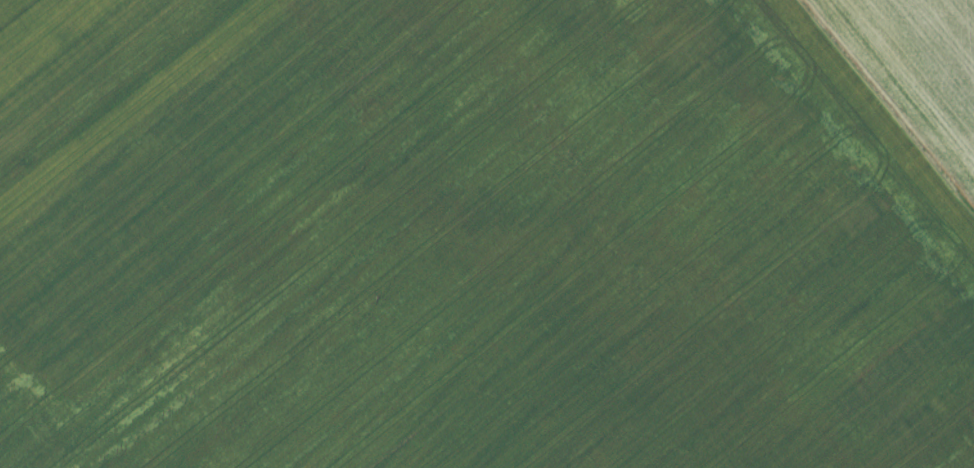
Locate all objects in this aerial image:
road: (882, 114)

